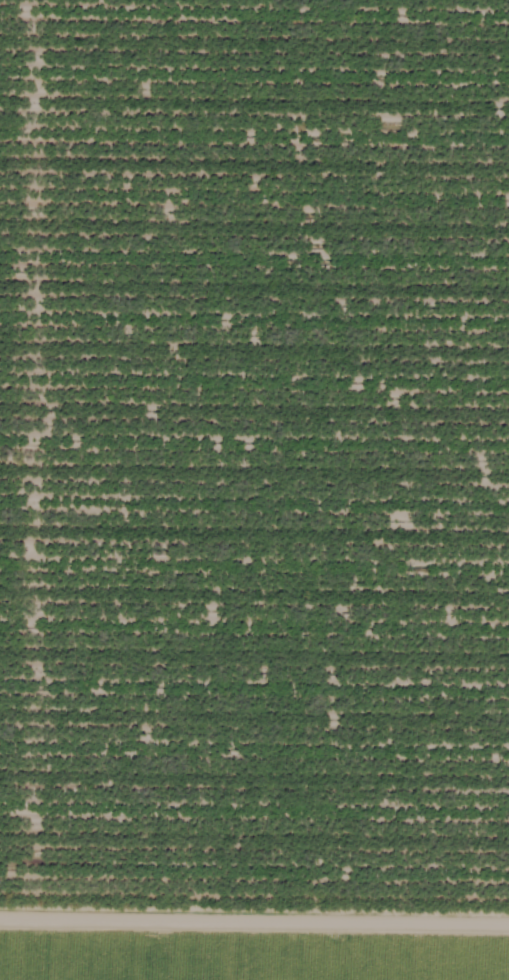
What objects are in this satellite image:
road: (254, 864)
crop: (253, 934)

